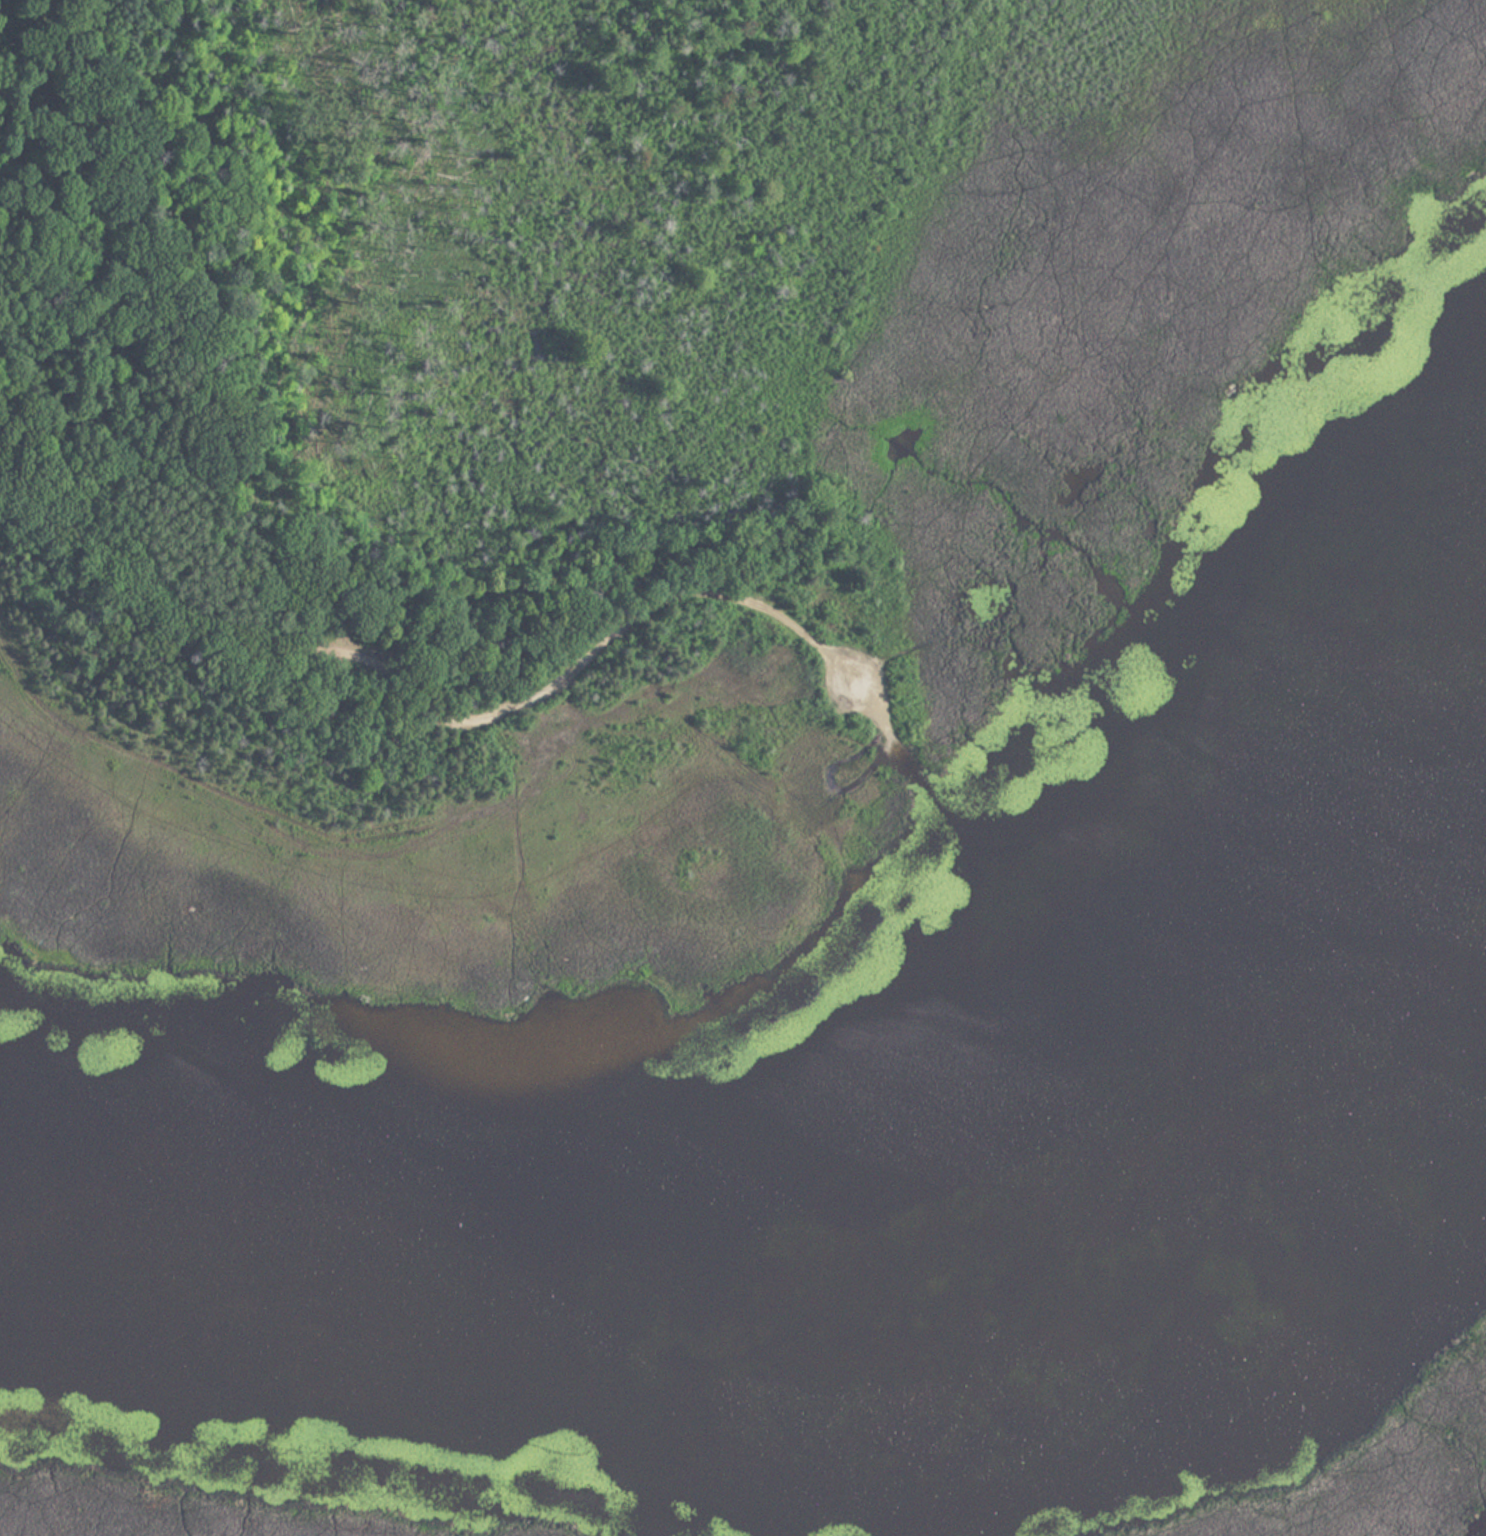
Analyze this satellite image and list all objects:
parking lot: (856, 683)
road: (410, 690)
road: (883, 721)

